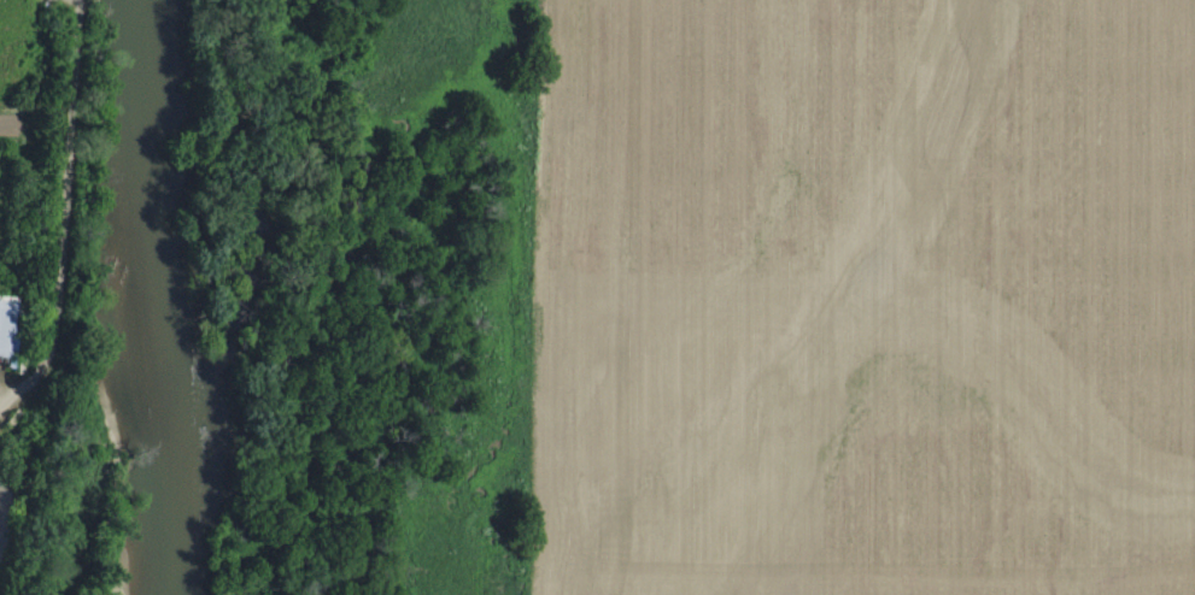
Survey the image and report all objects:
road: (64, 212)
river: (168, 299)
building: (10, 324)

